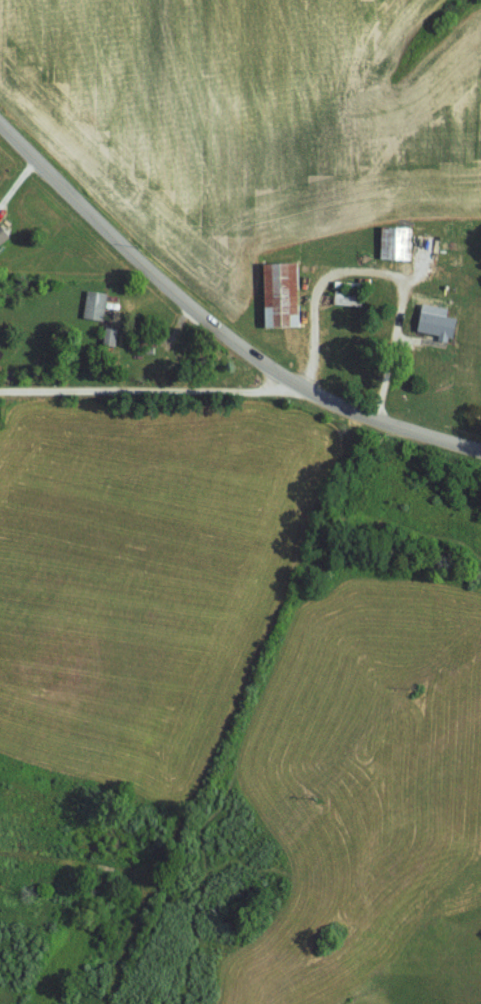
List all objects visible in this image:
building: (3, 234)
building: (394, 241)
road: (378, 272)
building: (282, 294)
building: (348, 297)
building: (95, 304)
road: (214, 320)
building: (437, 325)
building: (111, 335)
road: (155, 390)

